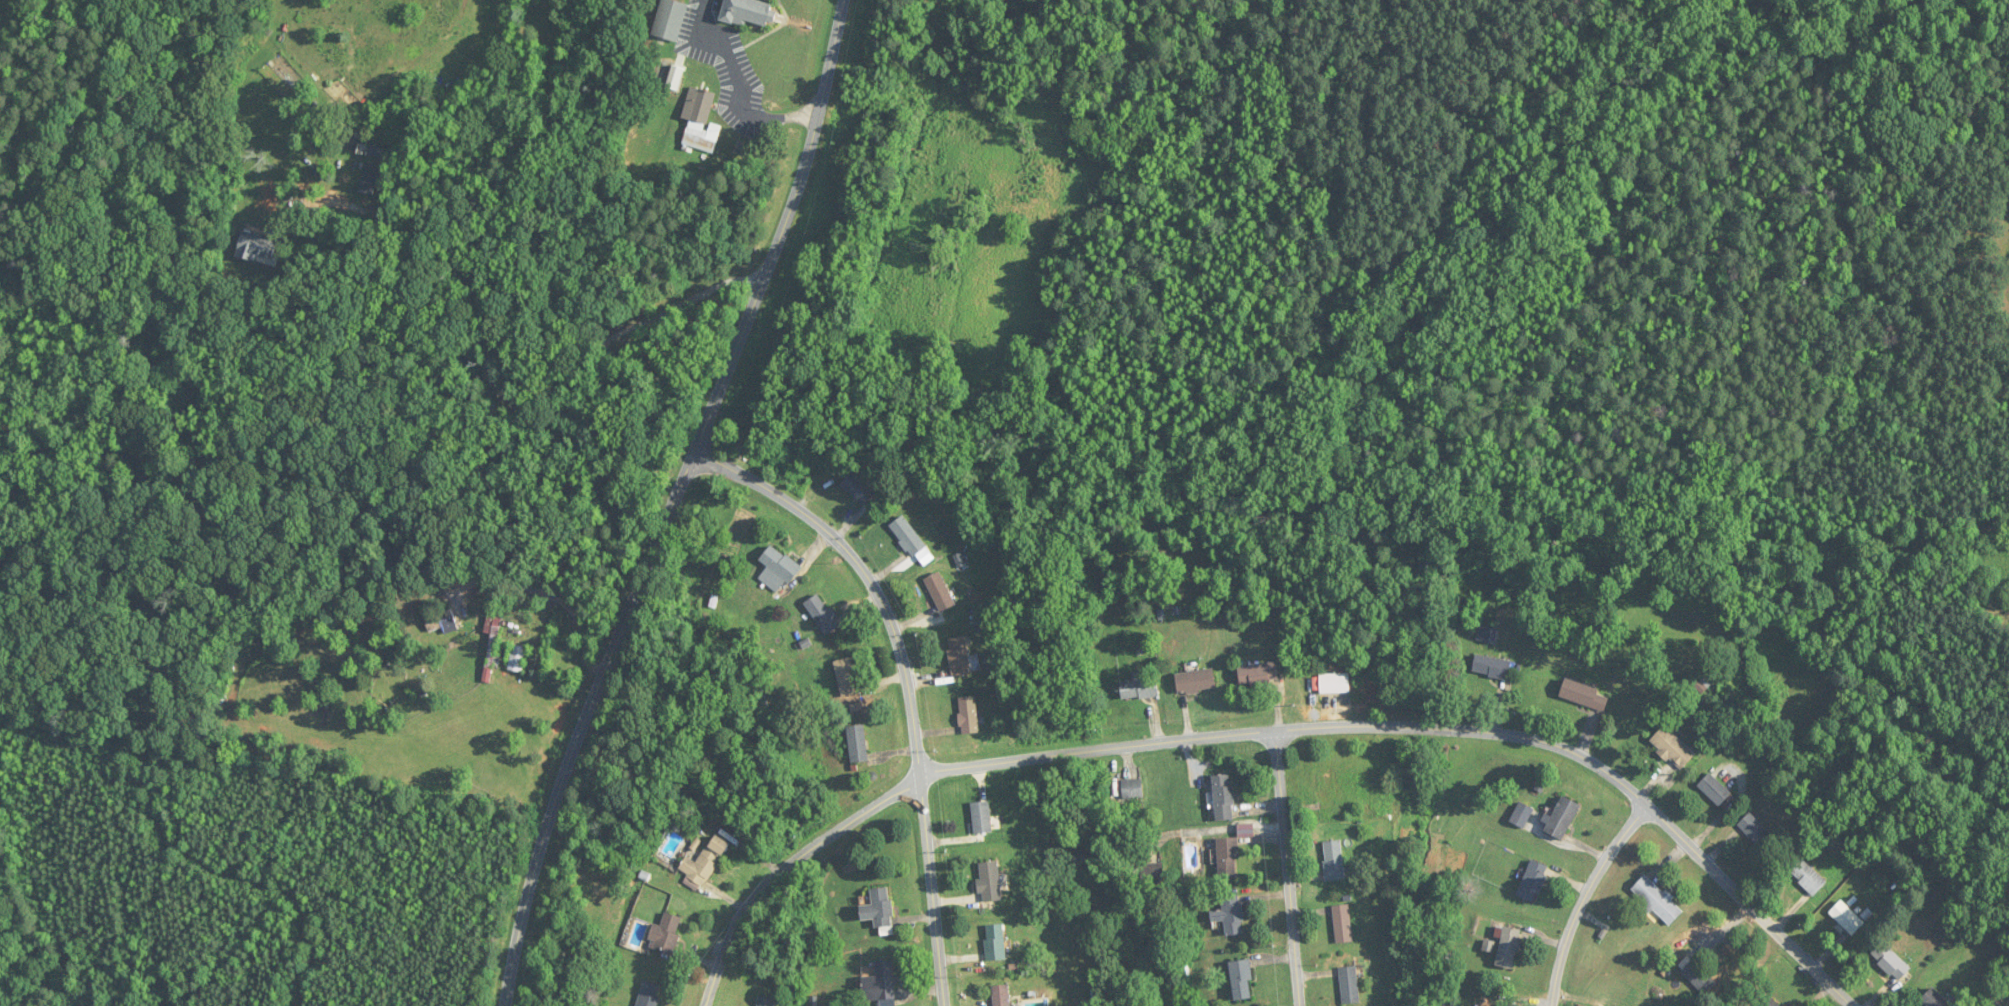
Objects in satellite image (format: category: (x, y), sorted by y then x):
building: (748, 11)
building: (670, 19)
road: (743, 86)
building: (699, 105)
building: (702, 137)
road: (424, 244)
building: (257, 248)
road: (608, 343)
road: (493, 376)
building: (858, 487)
road: (675, 503)
building: (907, 536)
building: (777, 569)
building: (939, 591)
road: (547, 593)
building: (822, 614)
building: (441, 622)
building: (1487, 634)
building: (959, 656)
building: (517, 658)
building: (1491, 666)
building: (1258, 673)
building: (846, 677)
building: (1196, 681)
road: (908, 682)
building: (1334, 683)
building: (1140, 686)
building: (1585, 695)
building: (968, 715)
road: (1273, 734)
building: (857, 743)
building: (1673, 747)
building: (1132, 789)
building: (1714, 789)
building: (1224, 797)
building: (1522, 815)
building: (981, 818)
building: (1562, 818)
building: (1755, 830)
building: (1228, 857)
building: (704, 861)
building: (1333, 861)
road: (1290, 869)
building: (1152, 874)
building: (1807, 876)
building: (989, 881)
building: (1533, 881)
road: (1587, 900)
building: (1657, 900)
building: (878, 908)
building: (1230, 915)
building: (1847, 918)
building: (1342, 923)
building: (665, 933)
building: (995, 942)
building: (1509, 947)
building: (1593, 957)
building: (1450, 960)
building: (1890, 961)
building: (1241, 980)
building: (880, 983)
building: (1348, 985)
building: (648, 994)
building: (1001, 995)
building: (1934, 999)
building: (765, 1001)
building: (1772, 1003)

